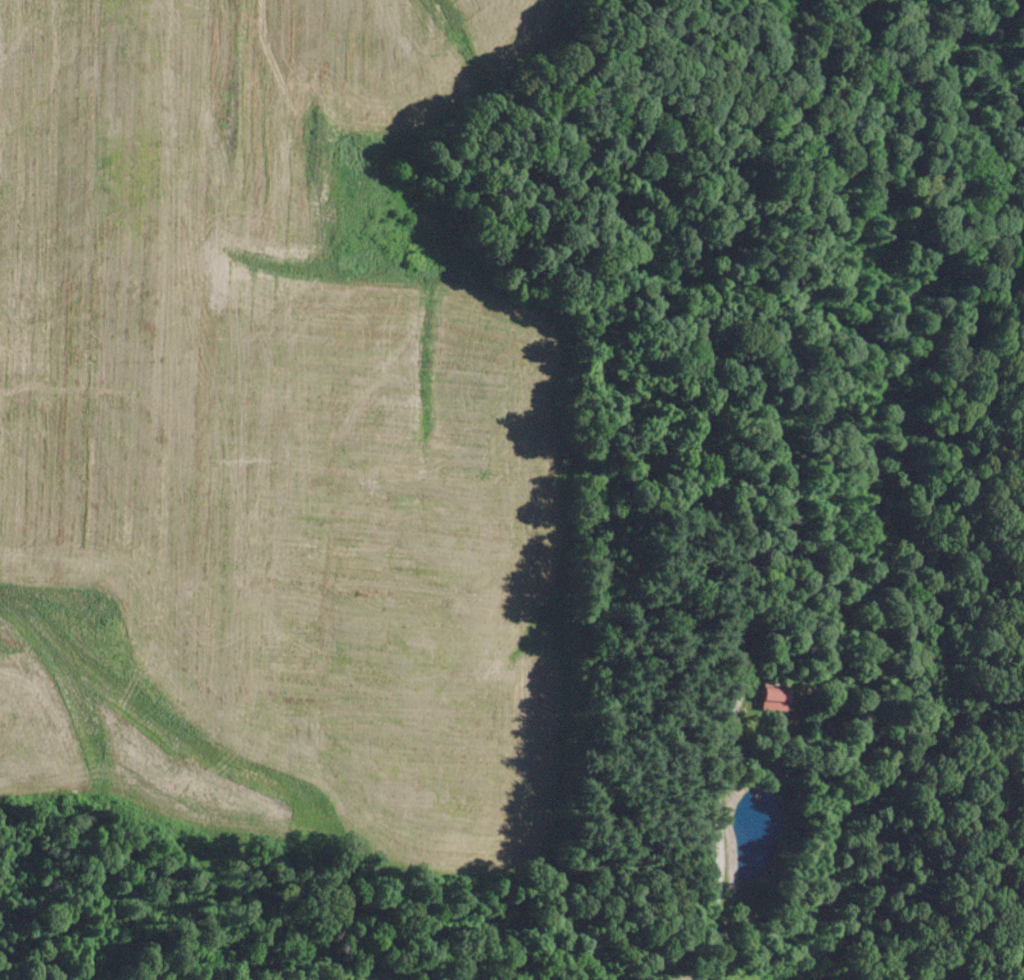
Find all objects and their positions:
building: (780, 694)

